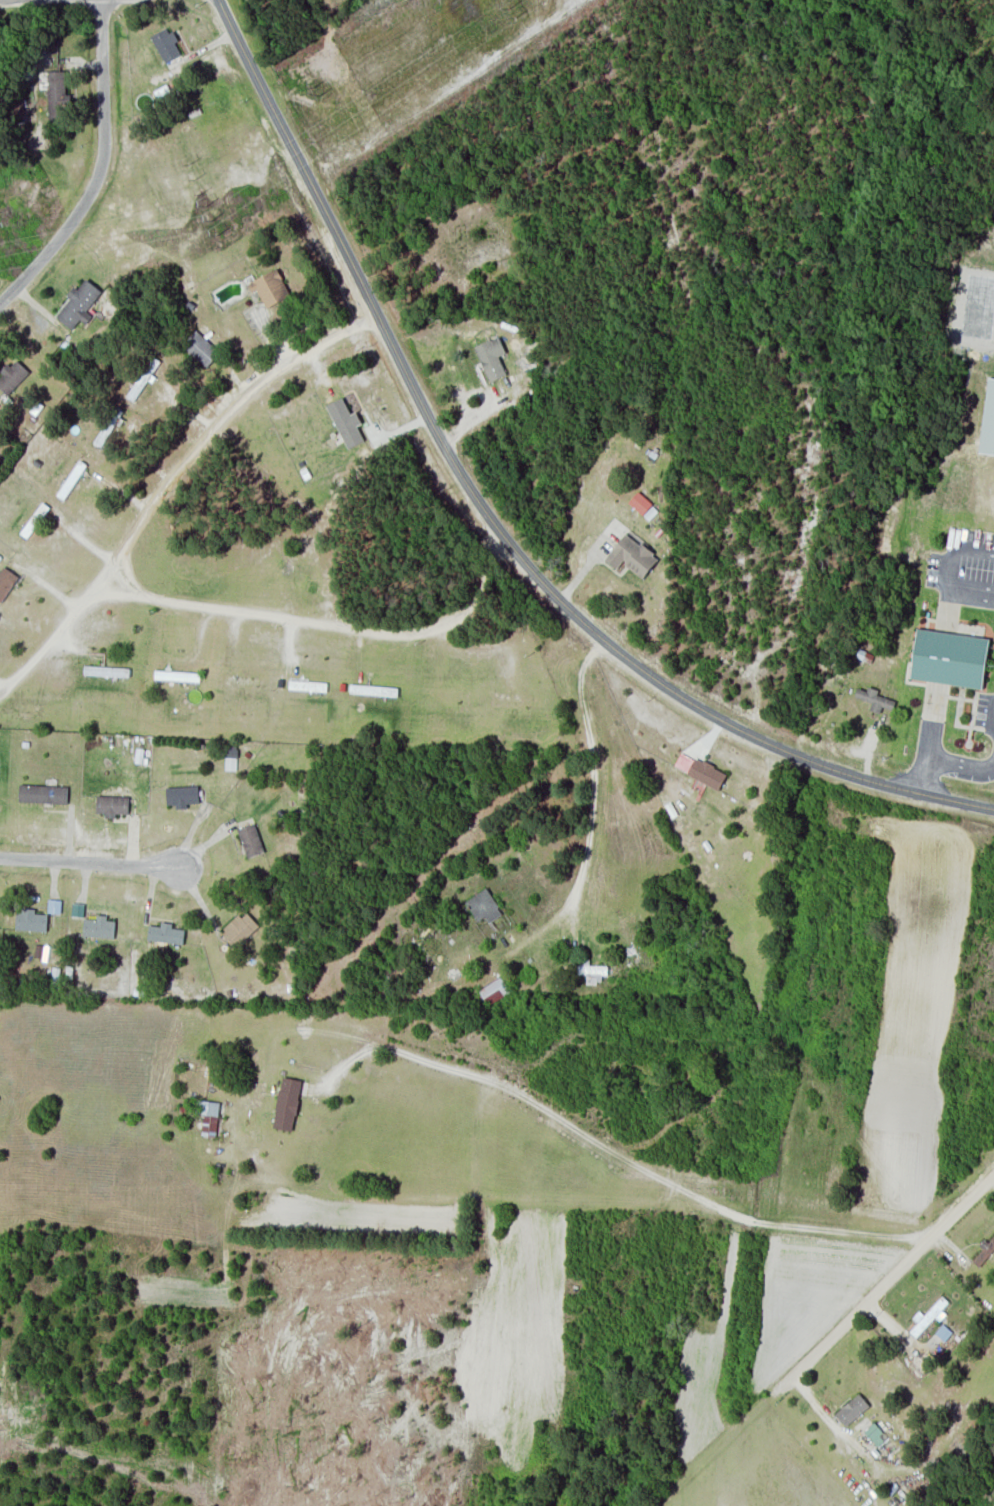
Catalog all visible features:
power tower: (510, 20)
building: (165, 44)
building: (58, 95)
road: (99, 167)
power tower: (190, 174)
power tower: (207, 213)
building: (270, 287)
building: (78, 303)
building: (201, 348)
building: (491, 357)
building: (12, 376)
building: (988, 419)
building: (345, 422)
road: (170, 484)
building: (639, 502)
road: (494, 522)
building: (632, 555)
road: (950, 571)
building: (6, 581)
road: (327, 623)
building: (949, 658)
building: (102, 670)
building: (874, 698)
road: (947, 764)
building: (699, 769)
building: (43, 793)
building: (182, 795)
road: (592, 795)
building: (112, 804)
building: (250, 840)
road: (90, 861)
building: (54, 905)
building: (484, 905)
building: (77, 909)
building: (30, 919)
building: (98, 926)
building: (239, 928)
building: (165, 933)
building: (590, 971)
building: (494, 989)
building: (286, 1103)
building: (209, 1117)
road: (611, 1150)
building: (985, 1251)
road: (894, 1269)
building: (927, 1316)
building: (851, 1409)
building: (875, 1433)

